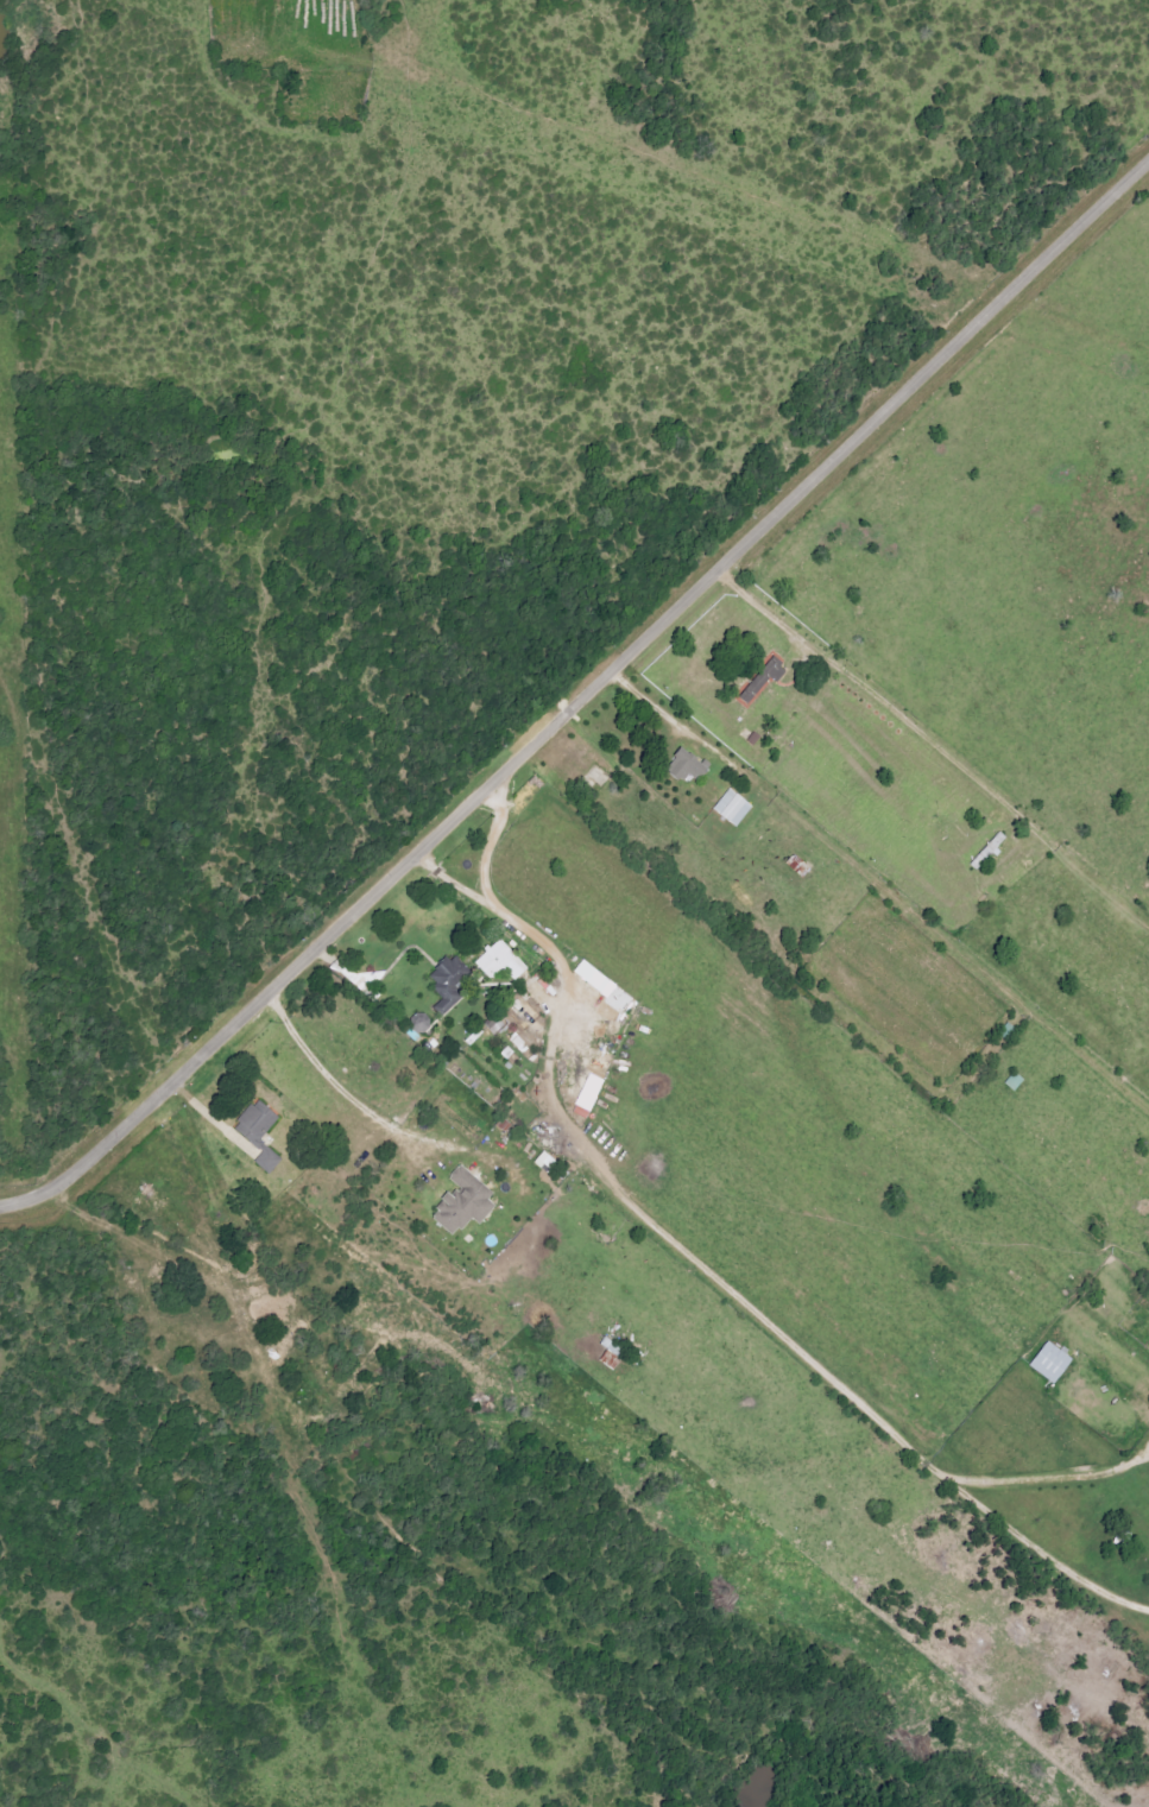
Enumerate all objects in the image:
building: (764, 680)
road: (585, 697)
road: (883, 700)
road: (670, 722)
building: (689, 765)
building: (734, 807)
road: (484, 845)
building: (990, 852)
building: (503, 961)
building: (594, 975)
building: (446, 979)
building: (497, 1024)
road: (340, 1091)
building: (258, 1122)
building: (270, 1160)
road: (612, 1190)
building: (456, 1200)
building: (269, 1307)
building: (1053, 1361)
road: (1044, 1474)
road: (1037, 1552)

